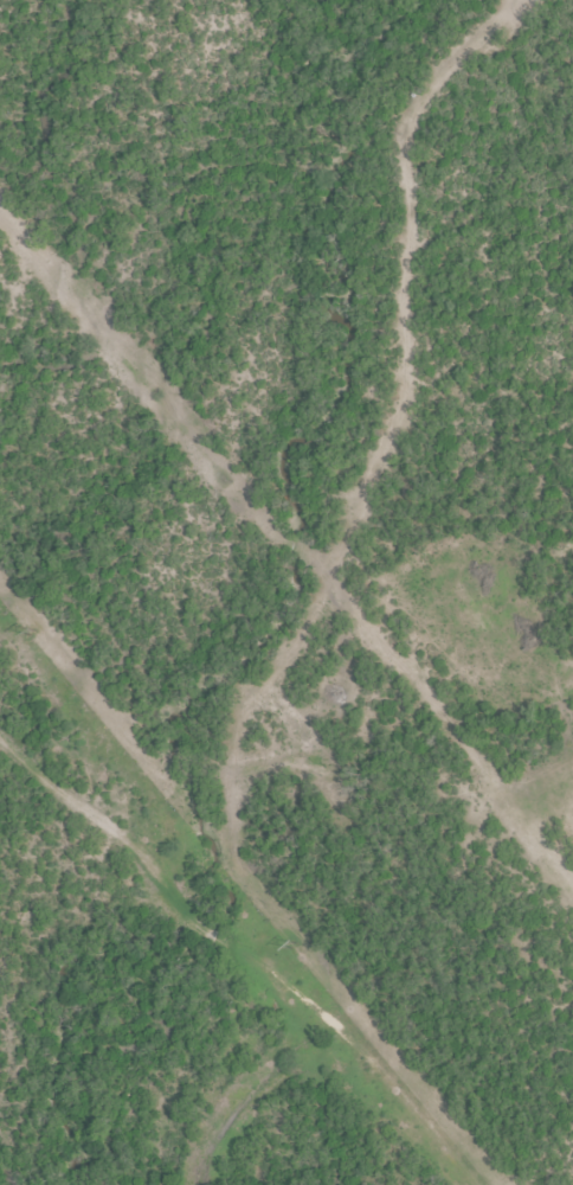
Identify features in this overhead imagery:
power tower: (32, 633)
power tower: (294, 947)

